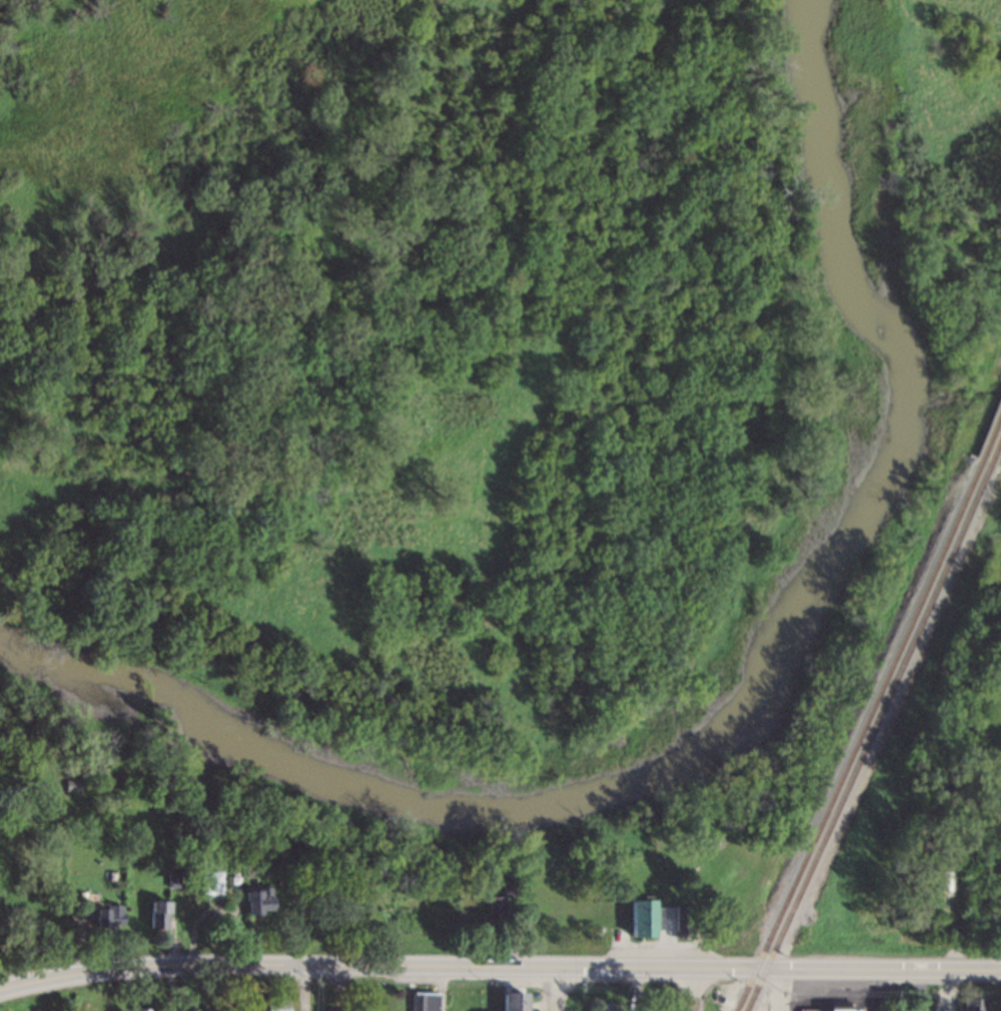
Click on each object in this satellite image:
railway: (994, 441)
railway: (997, 453)
railway: (881, 716)
river: (734, 719)
railway: (862, 736)
building: (259, 901)
building: (496, 911)
building: (160, 915)
building: (111, 916)
building: (641, 919)
road: (953, 925)
road: (499, 966)
road: (305, 987)
road: (695, 990)
railway: (756, 990)
road: (791, 990)
road: (875, 990)
building: (514, 1001)
building: (426, 1002)
building: (275, 1003)
building: (975, 1004)
building: (602, 1007)
building: (149, 1009)
building: (829, 1009)

